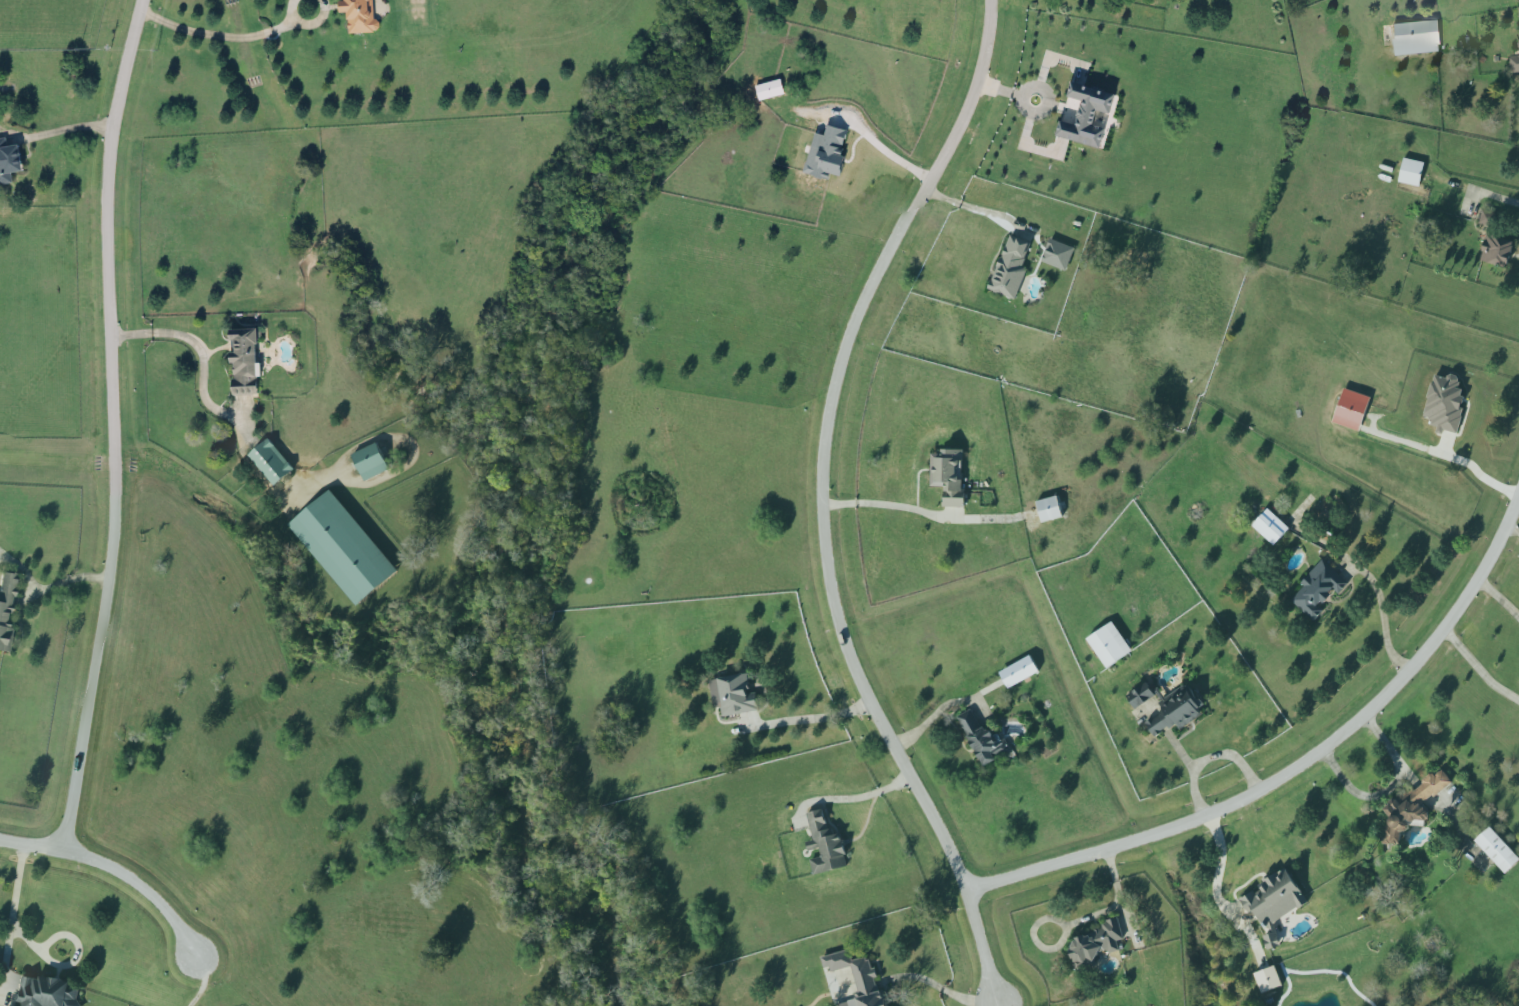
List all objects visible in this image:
building: (1518, 10)
building: (358, 14)
road: (220, 32)
building: (1415, 36)
building: (1517, 40)
building: (1515, 63)
building: (768, 86)
building: (1085, 112)
road: (58, 129)
road: (880, 145)
building: (825, 150)
building: (9, 158)
building: (1412, 172)
road: (1504, 197)
road: (969, 205)
building: (1488, 218)
building: (1497, 250)
building: (1058, 254)
building: (1011, 268)
road: (193, 346)
building: (244, 357)
building: (1445, 403)
building: (1352, 409)
road: (109, 425)
building: (272, 462)
building: (371, 462)
building: (949, 475)
road: (1477, 478)
road: (819, 502)
road: (882, 504)
building: (1050, 509)
building: (1271, 527)
road: (1514, 528)
building: (344, 547)
road: (60, 582)
building: (1320, 589)
road: (1500, 598)
building: (6, 609)
road: (1384, 619)
building: (1110, 645)
road: (1479, 668)
building: (1020, 672)
building: (734, 695)
building: (1141, 695)
building: (1176, 710)
road: (819, 718)
road: (928, 722)
building: (983, 739)
road: (1209, 759)
road: (1293, 771)
road: (1388, 789)
road: (863, 795)
building: (1412, 807)
building: (825, 844)
building: (1498, 849)
road: (1220, 868)
road: (114, 872)
building: (1275, 903)
road: (14, 908)
building: (1096, 945)
road: (70, 962)
building: (859, 978)
building: (1269, 979)
road: (945, 989)
building: (44, 992)

